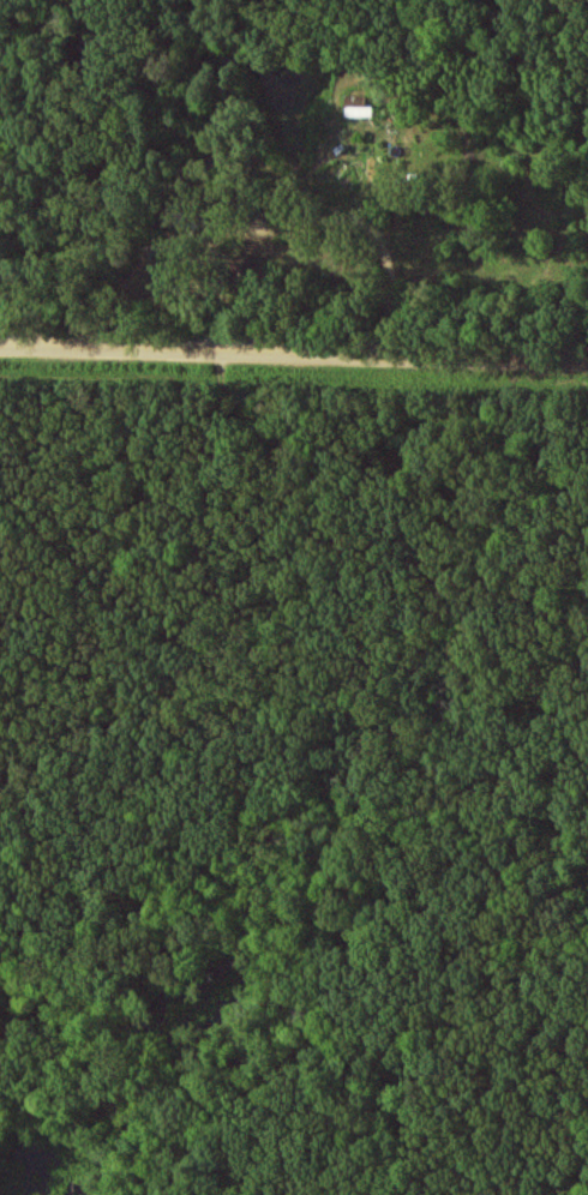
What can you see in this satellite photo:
road: (362, 226)
road: (293, 358)

